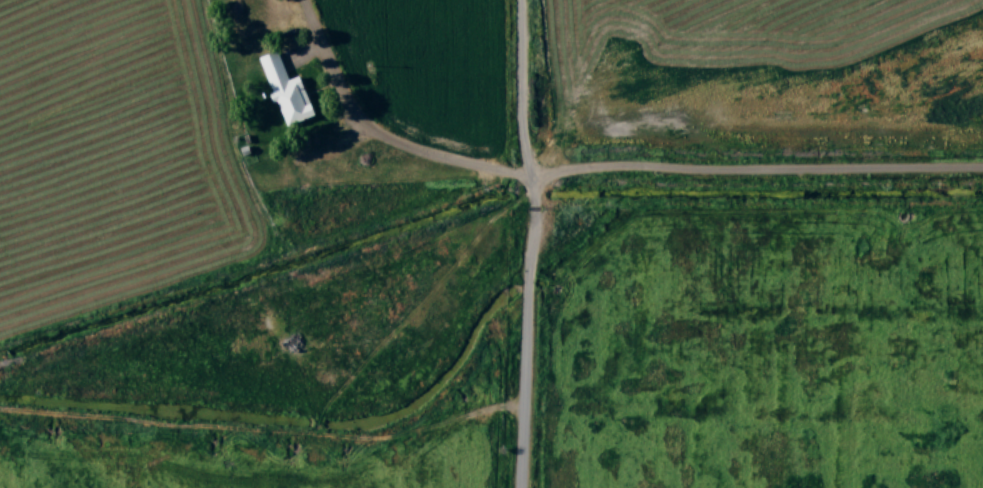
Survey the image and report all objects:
building: (283, 92)
road: (532, 243)

